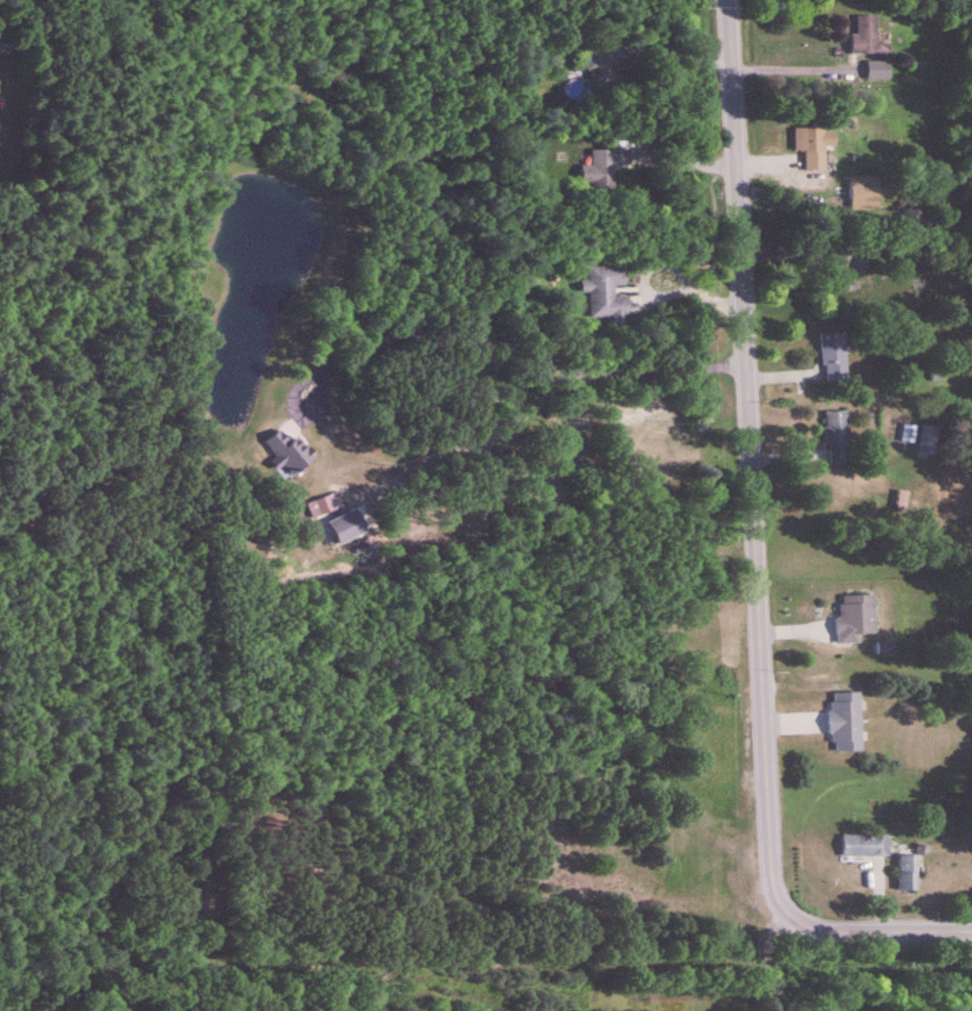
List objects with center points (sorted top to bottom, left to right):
building: (868, 35)
building: (607, 66)
road: (793, 69)
building: (879, 71)
building: (815, 139)
road: (684, 162)
building: (603, 169)
road: (666, 263)
building: (844, 269)
building: (606, 294)
road: (488, 341)
building: (833, 355)
building: (837, 437)
building: (927, 440)
building: (289, 454)
road: (751, 487)
building: (324, 506)
building: (856, 617)
building: (846, 722)
building: (865, 846)
building: (908, 873)
road: (906, 929)
road: (623, 992)
road: (768, 1003)

